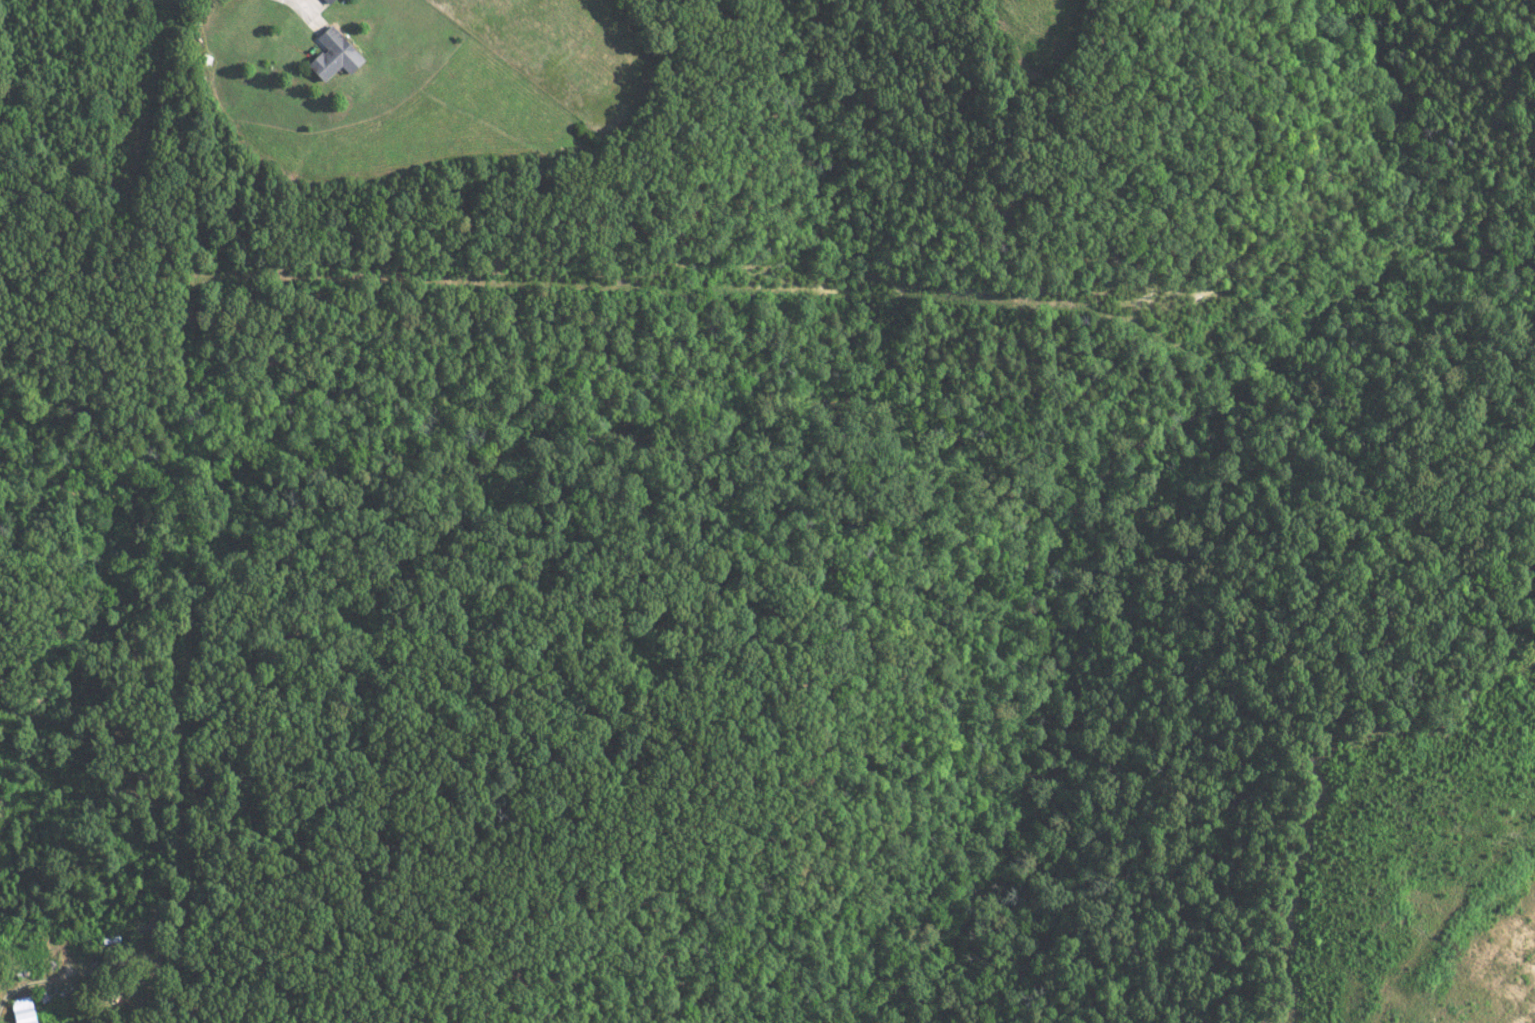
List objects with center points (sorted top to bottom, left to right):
building: (324, 1)
road: (306, 11)
building: (329, 54)

